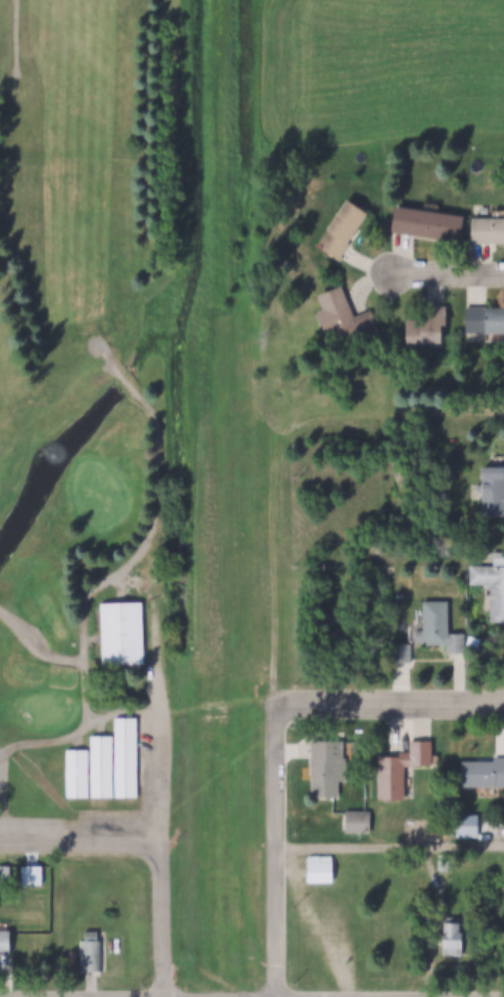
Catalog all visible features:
road: (13, 37)
building: (427, 223)
building: (341, 230)
building: (487, 231)
road: (450, 277)
building: (342, 317)
building: (485, 318)
building: (424, 324)
park: (150, 380)
building: (491, 495)
road: (120, 572)
building: (491, 585)
building: (438, 628)
building: (122, 633)
road: (42, 646)
building: (402, 654)
road: (387, 702)
building: (126, 757)
building: (102, 765)
building: (327, 770)
building: (79, 772)
building: (397, 773)
building: (482, 774)
road: (163, 776)
building: (356, 821)
building: (464, 826)
road: (82, 837)
road: (390, 845)
road: (277, 855)
building: (320, 868)
building: (33, 875)
building: (452, 939)
building: (4, 942)
building: (95, 953)

